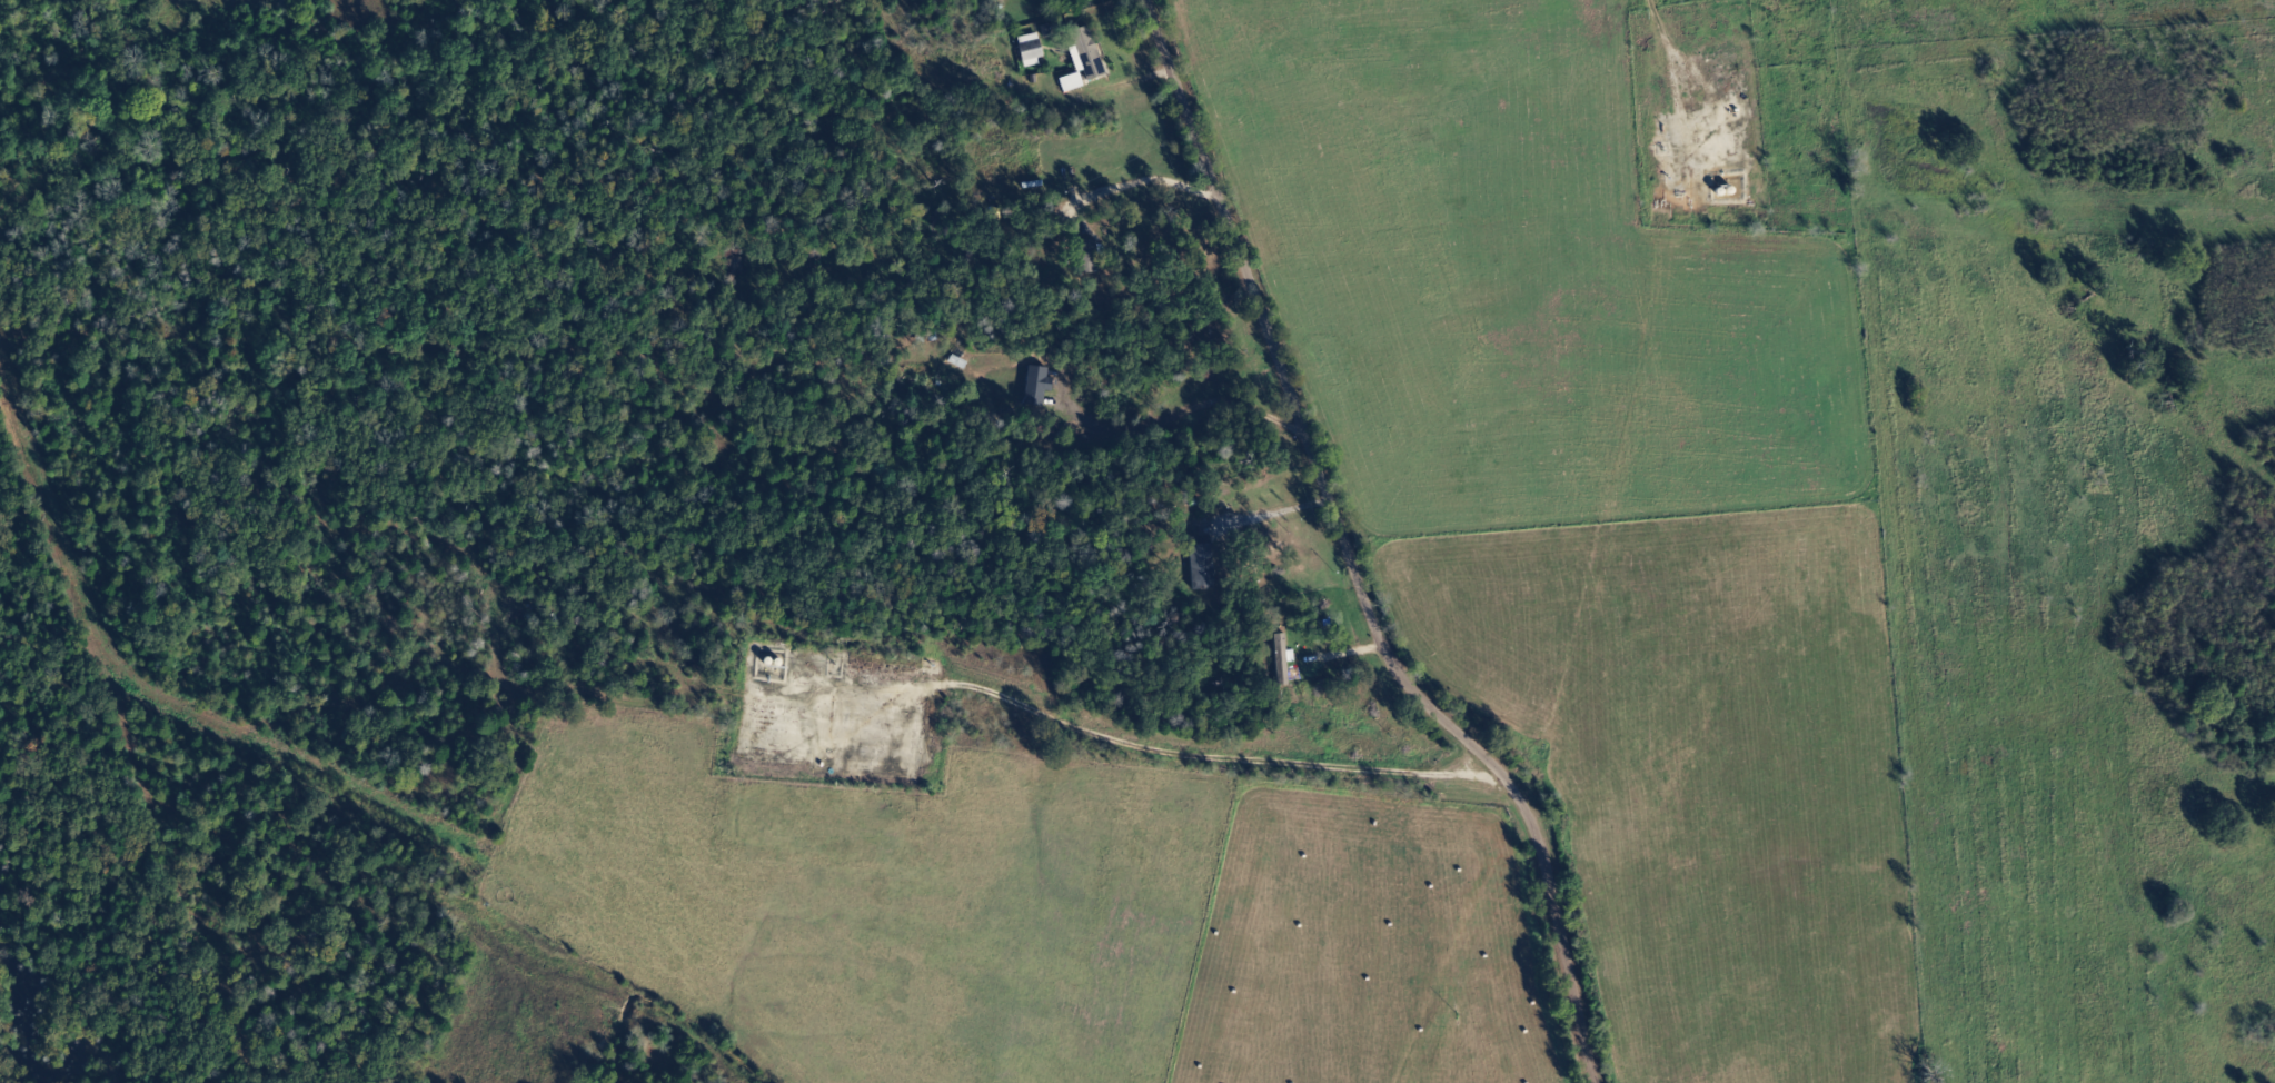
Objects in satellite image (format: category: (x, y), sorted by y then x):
building: (1033, 50)
building: (1089, 53)
building: (1074, 82)
building: (1040, 386)
road: (1378, 552)
building: (1205, 564)
building: (1284, 659)

